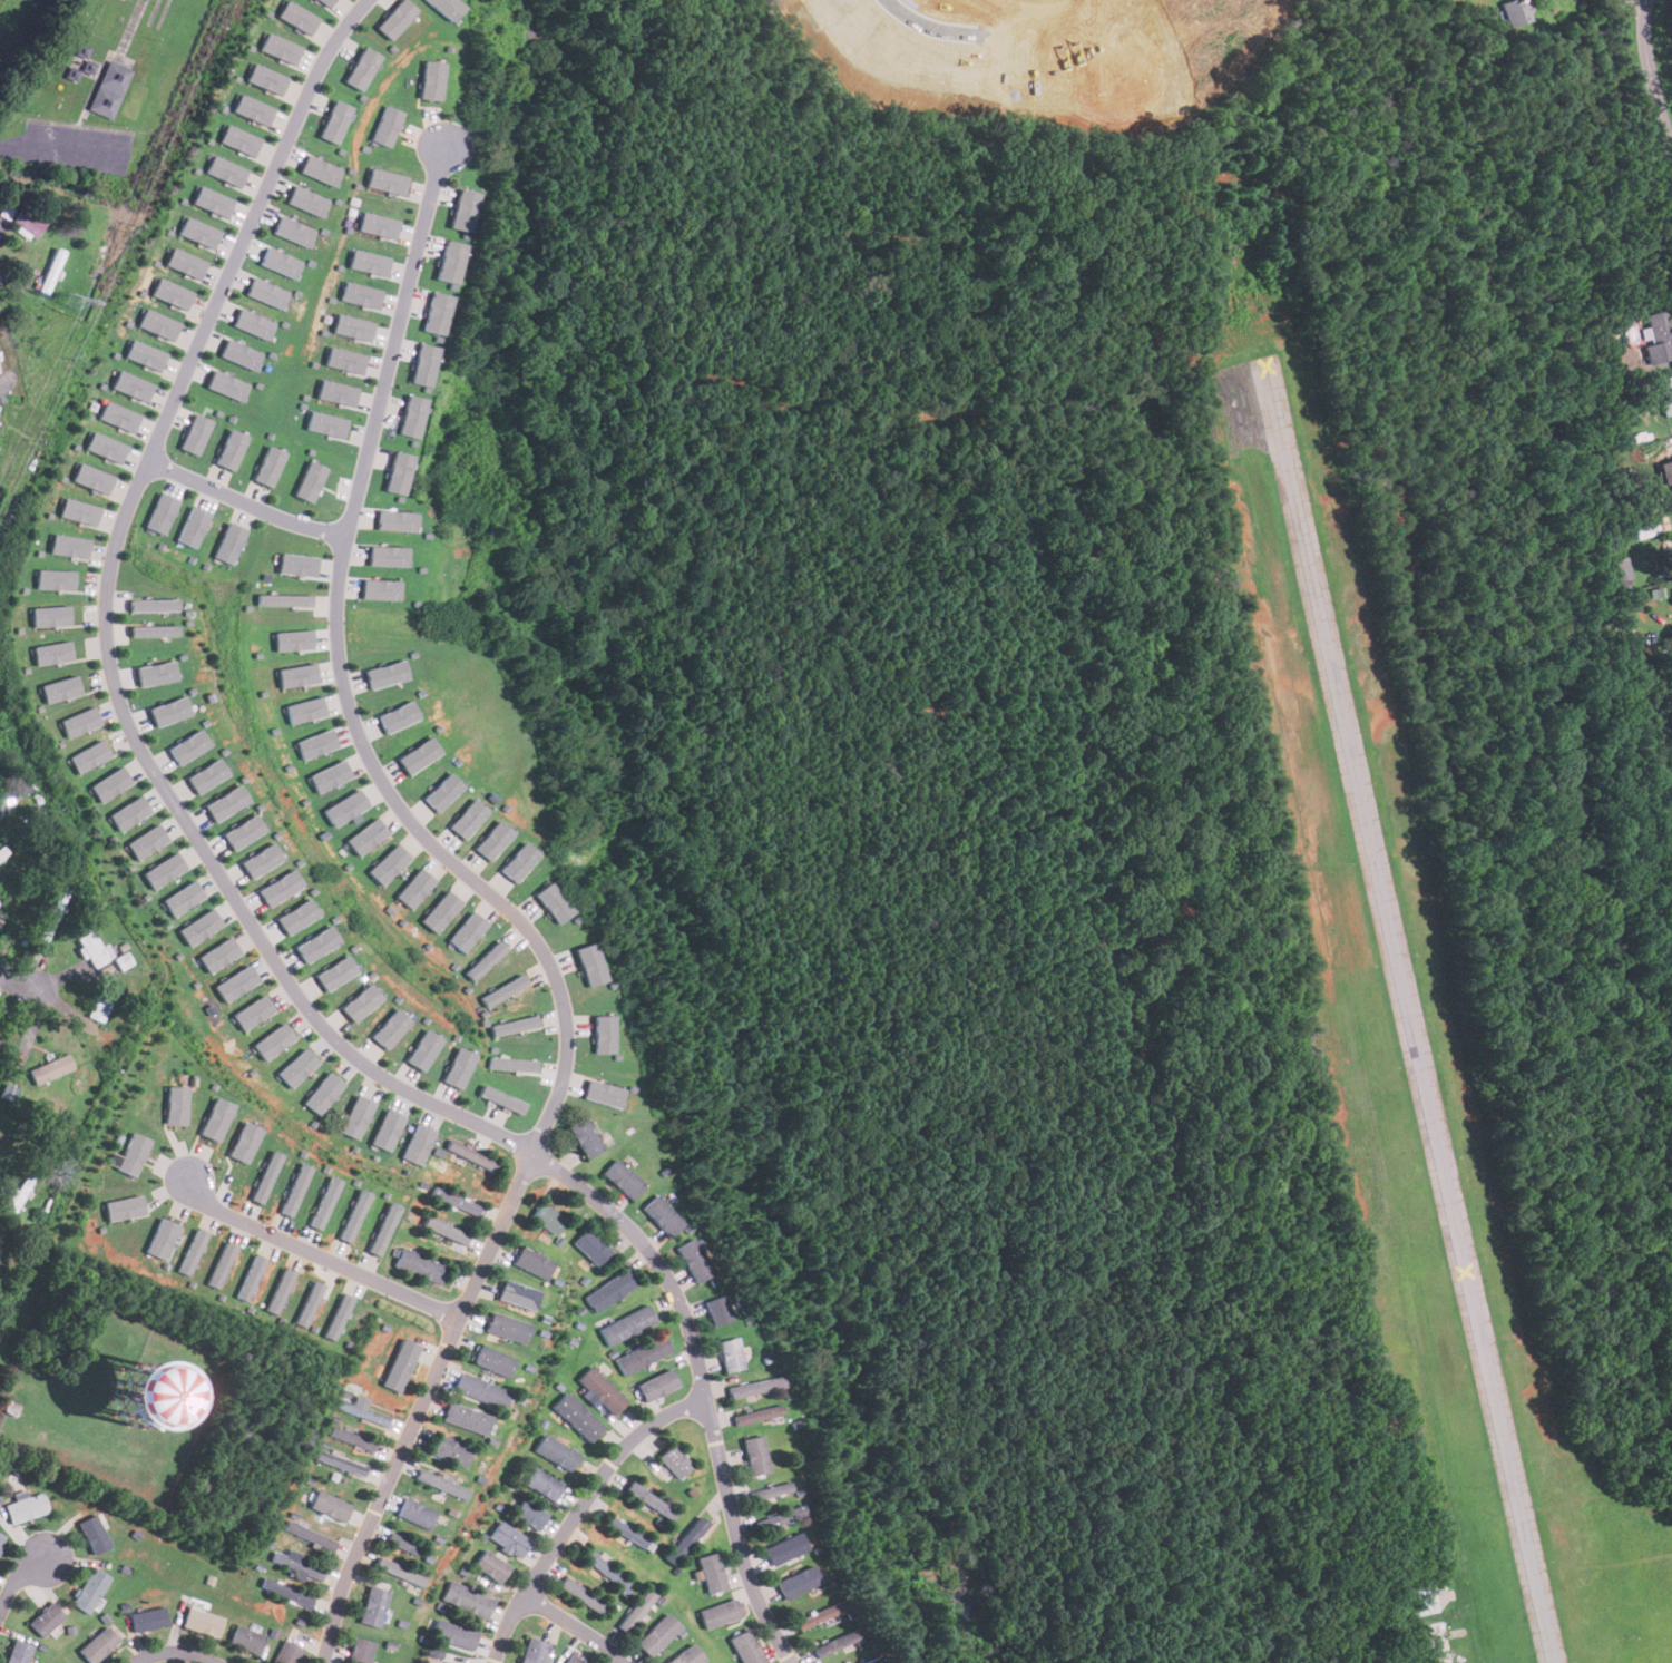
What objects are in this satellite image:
road: (1637, 1)
building: (326, 2)
building: (446, 7)
building: (1514, 11)
building: (296, 17)
building: (394, 18)
road: (978, 31)
road: (1130, 46)
building: (278, 47)
building: (89, 67)
building: (361, 68)
road: (1651, 77)
building: (265, 78)
building: (431, 79)
building: (108, 89)
building: (253, 109)
building: (335, 121)
building: (387, 126)
building: (238, 139)
road: (61, 148)
building: (320, 169)
building: (225, 170)
building: (385, 180)
building: (306, 199)
building: (212, 200)
building: (461, 209)
building: (28, 223)
building: (378, 224)
building: (293, 231)
building: (198, 232)
building: (449, 261)
building: (280, 262)
building: (369, 262)
building: (185, 263)
building: (51, 271)
building: (266, 292)
building: (172, 293)
building: (361, 294)
power tower: (74, 303)
building: (436, 312)
building: (253, 323)
building: (158, 324)
building: (352, 326)
building: (1658, 334)
building: (239, 353)
building: (146, 354)
building: (344, 359)
building: (423, 364)
building: (0, 370)
building: (226, 384)
building: (131, 385)
building: (336, 392)
building: (1664, 393)
building: (118, 415)
building: (410, 415)
building: (325, 423)
building: (195, 433)
building: (105, 447)
building: (231, 449)
building: (267, 466)
building: (1666, 470)
building: (397, 472)
building: (91, 478)
building: (309, 481)
road: (244, 502)
building: (78, 510)
building: (160, 512)
building: (395, 520)
building: (193, 526)
building: (1644, 528)
building: (228, 542)
building: (69, 545)
building: (387, 555)
building: (296, 565)
building: (1619, 569)
building: (55, 578)
building: (381, 589)
building: (284, 599)
building: (153, 605)
building: (50, 615)
building: (154, 630)
building: (293, 639)
building: (51, 653)
building: (156, 673)
building: (296, 674)
building: (387, 674)
building: (60, 688)
building: (304, 710)
building: (169, 711)
building: (398, 716)
building: (79, 722)
building: (315, 743)
building: (188, 746)
building: (419, 754)
building: (88, 756)
building: (206, 775)
building: (329, 775)
building: (110, 784)
building: (443, 791)
building: (226, 802)
building: (346, 808)
building: (128, 812)
building: (468, 818)
building: (1, 819)
building: (243, 831)
building: (366, 835)
building: (493, 840)
building: (147, 841)
building: (2, 852)
building: (261, 860)
building: (519, 861)
building: (388, 863)
building: (164, 870)
building: (280, 888)
building: (414, 888)
building: (183, 898)
road: (236, 901)
building: (554, 902)
road: (499, 903)
building: (441, 911)
building: (296, 916)
building: (1, 918)
building: (49, 923)
building: (199, 927)
building: (468, 931)
building: (316, 943)
building: (94, 947)
building: (218, 953)
building: (486, 959)
building: (590, 963)
building: (335, 972)
road: (17, 981)
building: (236, 982)
building: (503, 990)
building: (360, 1001)
building: (101, 1004)
building: (252, 1011)
building: (514, 1025)
building: (390, 1027)
building: (604, 1034)
building: (0, 1039)
building: (273, 1040)
building: (423, 1049)
building: (511, 1064)
building: (296, 1066)
building: (458, 1067)
building: (50, 1068)
building: (10, 1092)
building: (322, 1092)
building: (603, 1093)
building: (500, 1098)
building: (175, 1105)
building: (356, 1116)
building: (215, 1118)
building: (387, 1129)
building: (585, 1137)
building: (244, 1141)
building: (417, 1143)
building: (1, 1144)
building: (129, 1154)
building: (471, 1156)
building: (265, 1176)
building: (623, 1178)
building: (295, 1188)
building: (324, 1202)
building: (456, 1202)
building: (124, 1207)
building: (353, 1215)
building: (662, 1215)
building: (547, 1217)
building: (382, 1227)
building: (442, 1230)
building: (162, 1238)
building: (593, 1248)
building: (192, 1251)
road: (314, 1254)
building: (693, 1260)
building: (532, 1262)
building: (222, 1264)
building: (419, 1265)
building: (251, 1276)
building: (280, 1290)
building: (610, 1290)
building: (517, 1294)
building: (310, 1303)
building: (717, 1310)
building: (339, 1317)
building: (626, 1324)
building: (507, 1328)
building: (643, 1354)
building: (730, 1354)
building: (492, 1360)
building: (400, 1364)
building: (657, 1385)
building: (755, 1387)
building: (480, 1390)
building: (602, 1390)
water tower: (144, 1392)
building: (361, 1412)
building: (756, 1416)
building: (577, 1417)
building: (467, 1418)
building: (352, 1438)
building: (450, 1451)
building: (557, 1452)
building: (755, 1455)
building: (674, 1461)
building: (340, 1463)
building: (441, 1484)
building: (542, 1484)
building: (770, 1490)
building: (649, 1499)
building: (330, 1506)
building: (25, 1508)
road: (581, 1513)
building: (415, 1514)
building: (529, 1515)
building: (780, 1518)
building: (626, 1532)
building: (94, 1534)
building: (309, 1535)
building: (1, 1538)
building: (509, 1539)
building: (685, 1540)
building: (402, 1544)
building: (790, 1549)
building: (296, 1566)
building: (490, 1566)
building: (604, 1567)
building: (399, 1572)
building: (711, 1573)
building: (802, 1581)
road: (18, 1583)
building: (89, 1589)
building: (286, 1592)
building: (581, 1595)
building: (467, 1600)
building: (1427, 1600)
building: (372, 1606)
building: (636, 1610)
building: (720, 1614)
building: (822, 1616)
building: (46, 1618)
building: (148, 1618)
building: (201, 1622)
road: (576, 1626)
building: (454, 1635)
building: (656, 1635)
building: (1435, 1636)
building: (246, 1640)
building: (838, 1642)
building: (98, 1645)
building: (745, 1647)
road: (175, 1651)
building: (359, 1651)
building: (532, 1651)
building: (18, 1652)
building: (286, 1653)
building: (686, 1655)
building: (573, 1660)
building: (870, 1660)
building: (1444, 1661)
building: (449, 1662)

